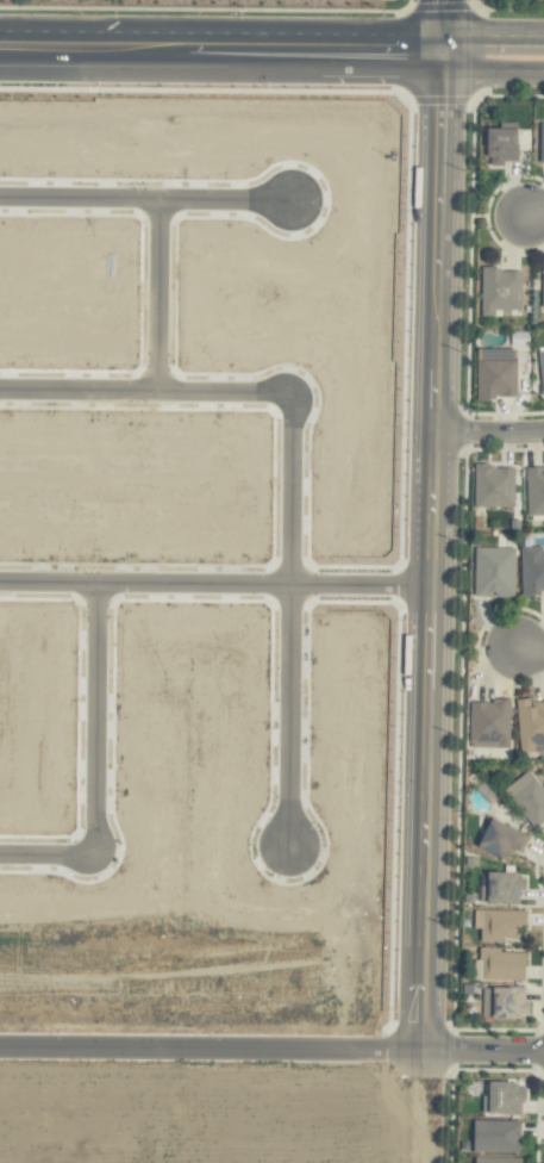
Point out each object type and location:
road: (442, 18)
road: (221, 32)
road: (493, 37)
road: (449, 52)
road: (226, 64)
road: (499, 71)
building: (542, 143)
building: (504, 144)
road: (143, 199)
road: (534, 211)
building: (501, 290)
building: (543, 291)
road: (154, 296)
building: (542, 367)
building: (498, 373)
road: (77, 391)
road: (290, 419)
road: (498, 431)
building: (495, 486)
building: (536, 491)
road: (448, 559)
building: (532, 570)
building: (495, 572)
road: (223, 584)
road: (531, 654)
road: (286, 714)
road: (88, 720)
building: (530, 722)
building: (490, 723)
building: (527, 798)
building: (504, 839)
road: (43, 857)
building: (502, 889)
building: (500, 923)
building: (504, 965)
building: (506, 1003)
road: (219, 1049)
road: (492, 1049)
building: (505, 1099)
crop: (214, 1112)
building: (498, 1136)
building: (499, 1159)

